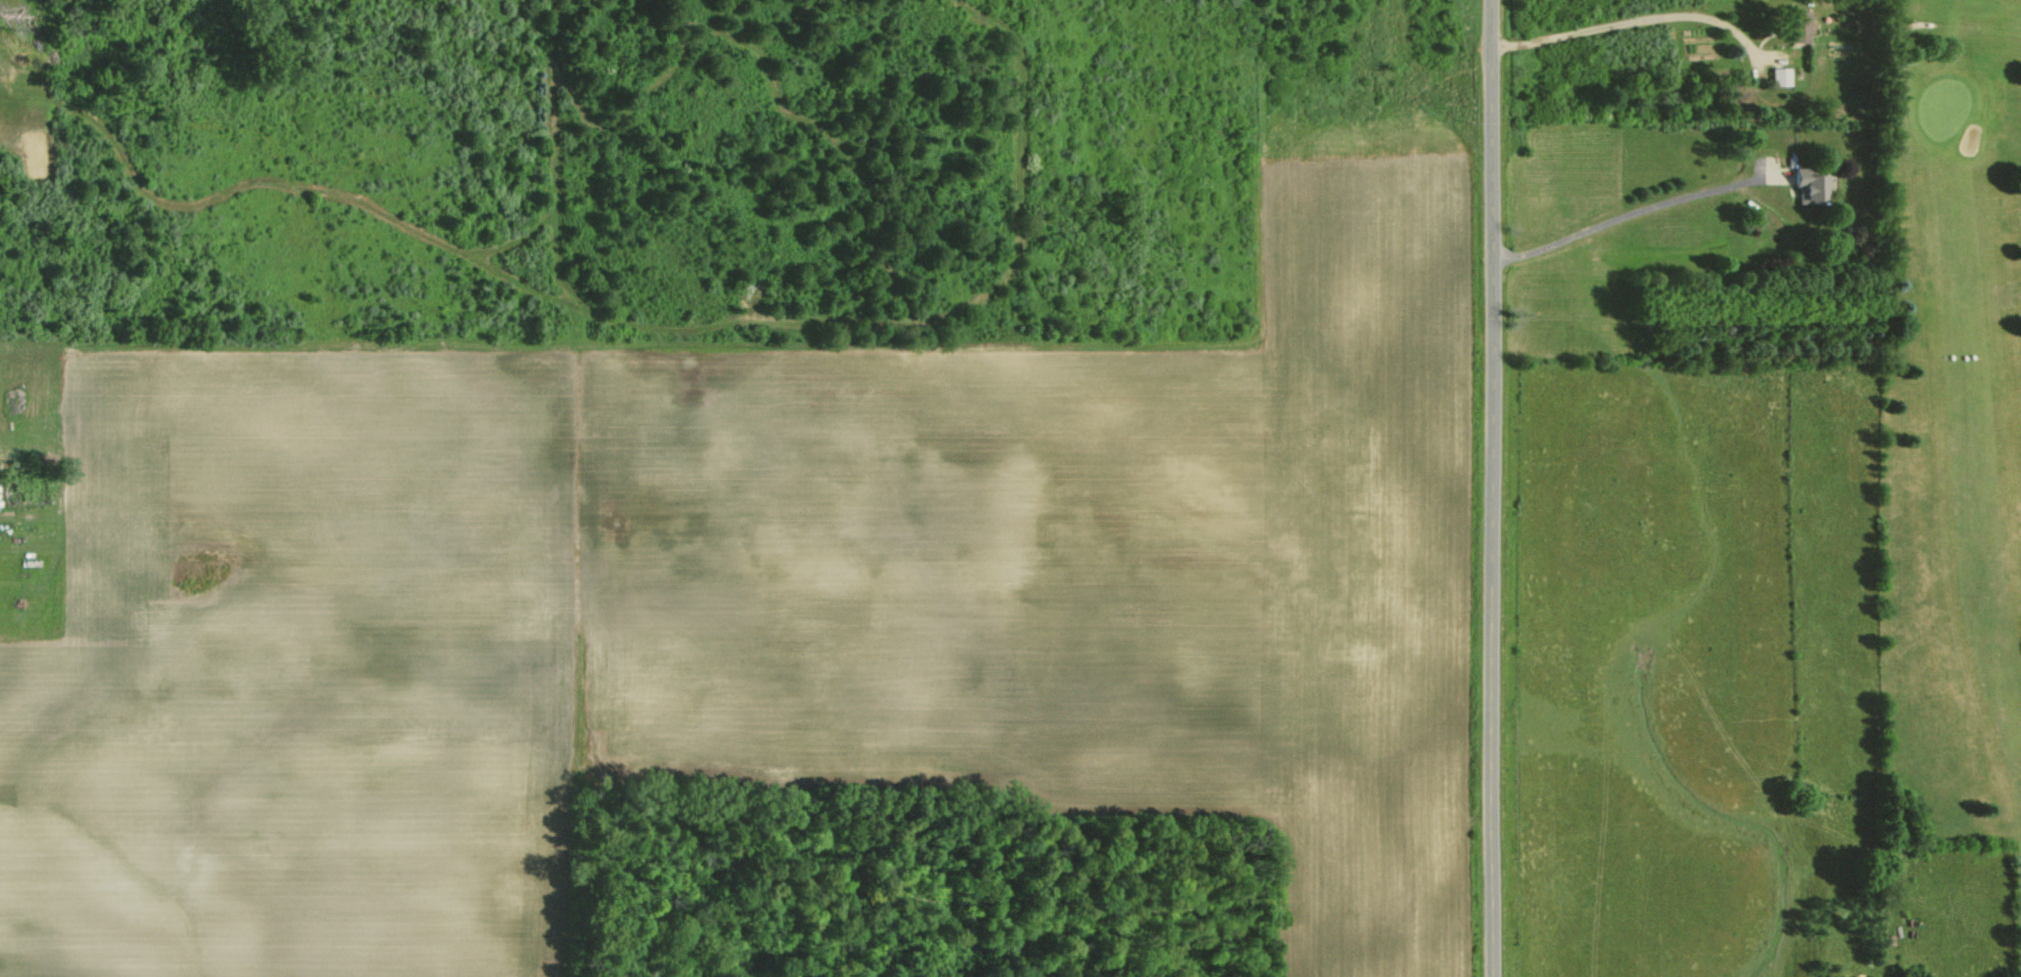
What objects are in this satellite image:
road: (1628, 19)
building: (1799, 27)
building: (1782, 76)
building: (1806, 185)
road: (1627, 213)
park: (1951, 425)
road: (1497, 488)

